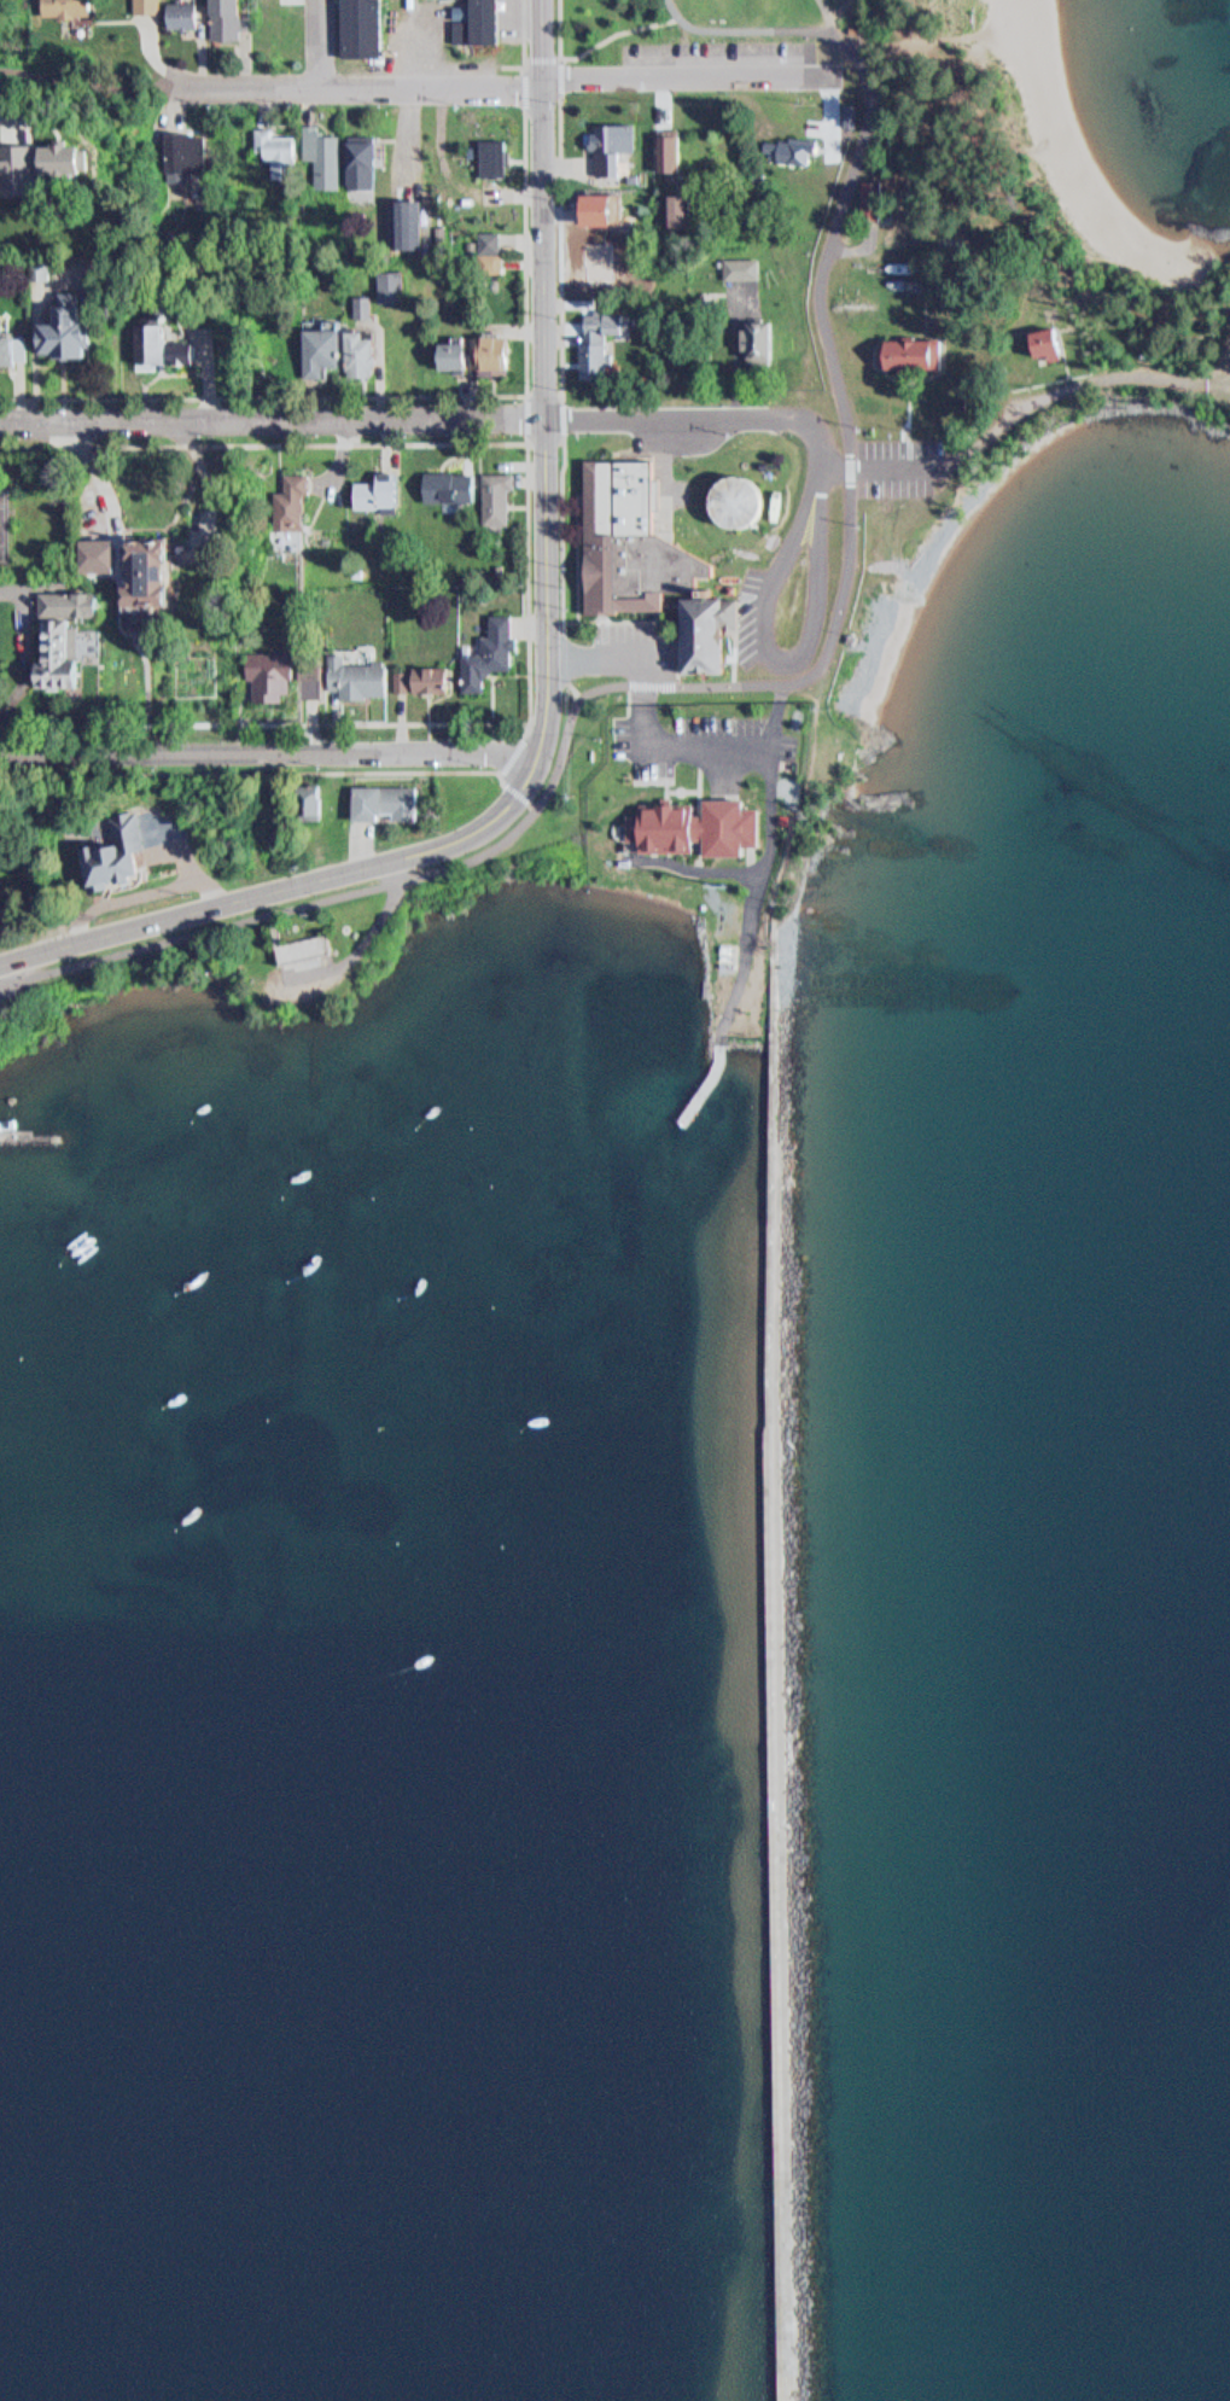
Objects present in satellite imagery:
building: (144, 2)
building: (62, 4)
building: (179, 10)
building: (222, 17)
building: (473, 18)
building: (356, 25)
road: (770, 27)
building: (862, 28)
road: (525, 31)
road: (322, 42)
road: (596, 46)
road: (156, 54)
road: (527, 63)
road: (86, 71)
road: (505, 87)
building: (846, 109)
park: (1004, 124)
road: (46, 130)
building: (606, 140)
building: (272, 142)
building: (787, 142)
building: (664, 144)
building: (676, 147)
building: (179, 150)
building: (319, 150)
building: (489, 150)
building: (81, 155)
building: (357, 155)
building: (502, 157)
building: (372, 162)
building: (865, 193)
building: (879, 199)
building: (672, 205)
building: (688, 209)
building: (401, 218)
building: (54, 222)
building: (345, 240)
building: (486, 243)
road: (565, 246)
building: (588, 253)
building: (736, 261)
road: (827, 261)
building: (39, 262)
building: (747, 268)
building: (397, 286)
building: (358, 301)
building: (366, 311)
building: (58, 324)
building: (751, 334)
building: (319, 339)
building: (593, 339)
building: (1038, 339)
building: (769, 342)
building: (155, 343)
building: (1067, 344)
building: (352, 346)
building: (489, 346)
building: (904, 348)
building: (17, 349)
building: (449, 350)
building: (367, 354)
building: (462, 357)
road: (547, 375)
road: (406, 394)
road: (1024, 416)
road: (419, 419)
road: (565, 438)
parking lot: (902, 465)
building: (444, 479)
building: (372, 483)
building: (386, 491)
building: (492, 493)
building: (301, 497)
storage tank: (751, 497)
building: (748, 501)
building: (282, 502)
road: (566, 531)
building: (646, 540)
road: (581, 570)
building: (134, 571)
road: (779, 571)
road: (822, 571)
building: (170, 573)
road: (847, 576)
road: (531, 583)
building: (57, 596)
road: (655, 619)
building: (715, 624)
road: (567, 636)
building: (484, 647)
building: (54, 648)
road: (614, 653)
building: (258, 669)
building: (346, 671)
building: (416, 672)
building: (439, 680)
road: (719, 684)
road: (578, 690)
road: (651, 716)
road: (518, 747)
road: (744, 747)
road: (270, 751)
road: (257, 771)
road: (525, 794)
building: (302, 797)
building: (378, 798)
building: (706, 824)
building: (105, 847)
road: (261, 870)
road: (290, 885)
road: (371, 892)
road: (762, 894)
building: (4, 908)
building: (299, 943)
pier: (710, 1084)

